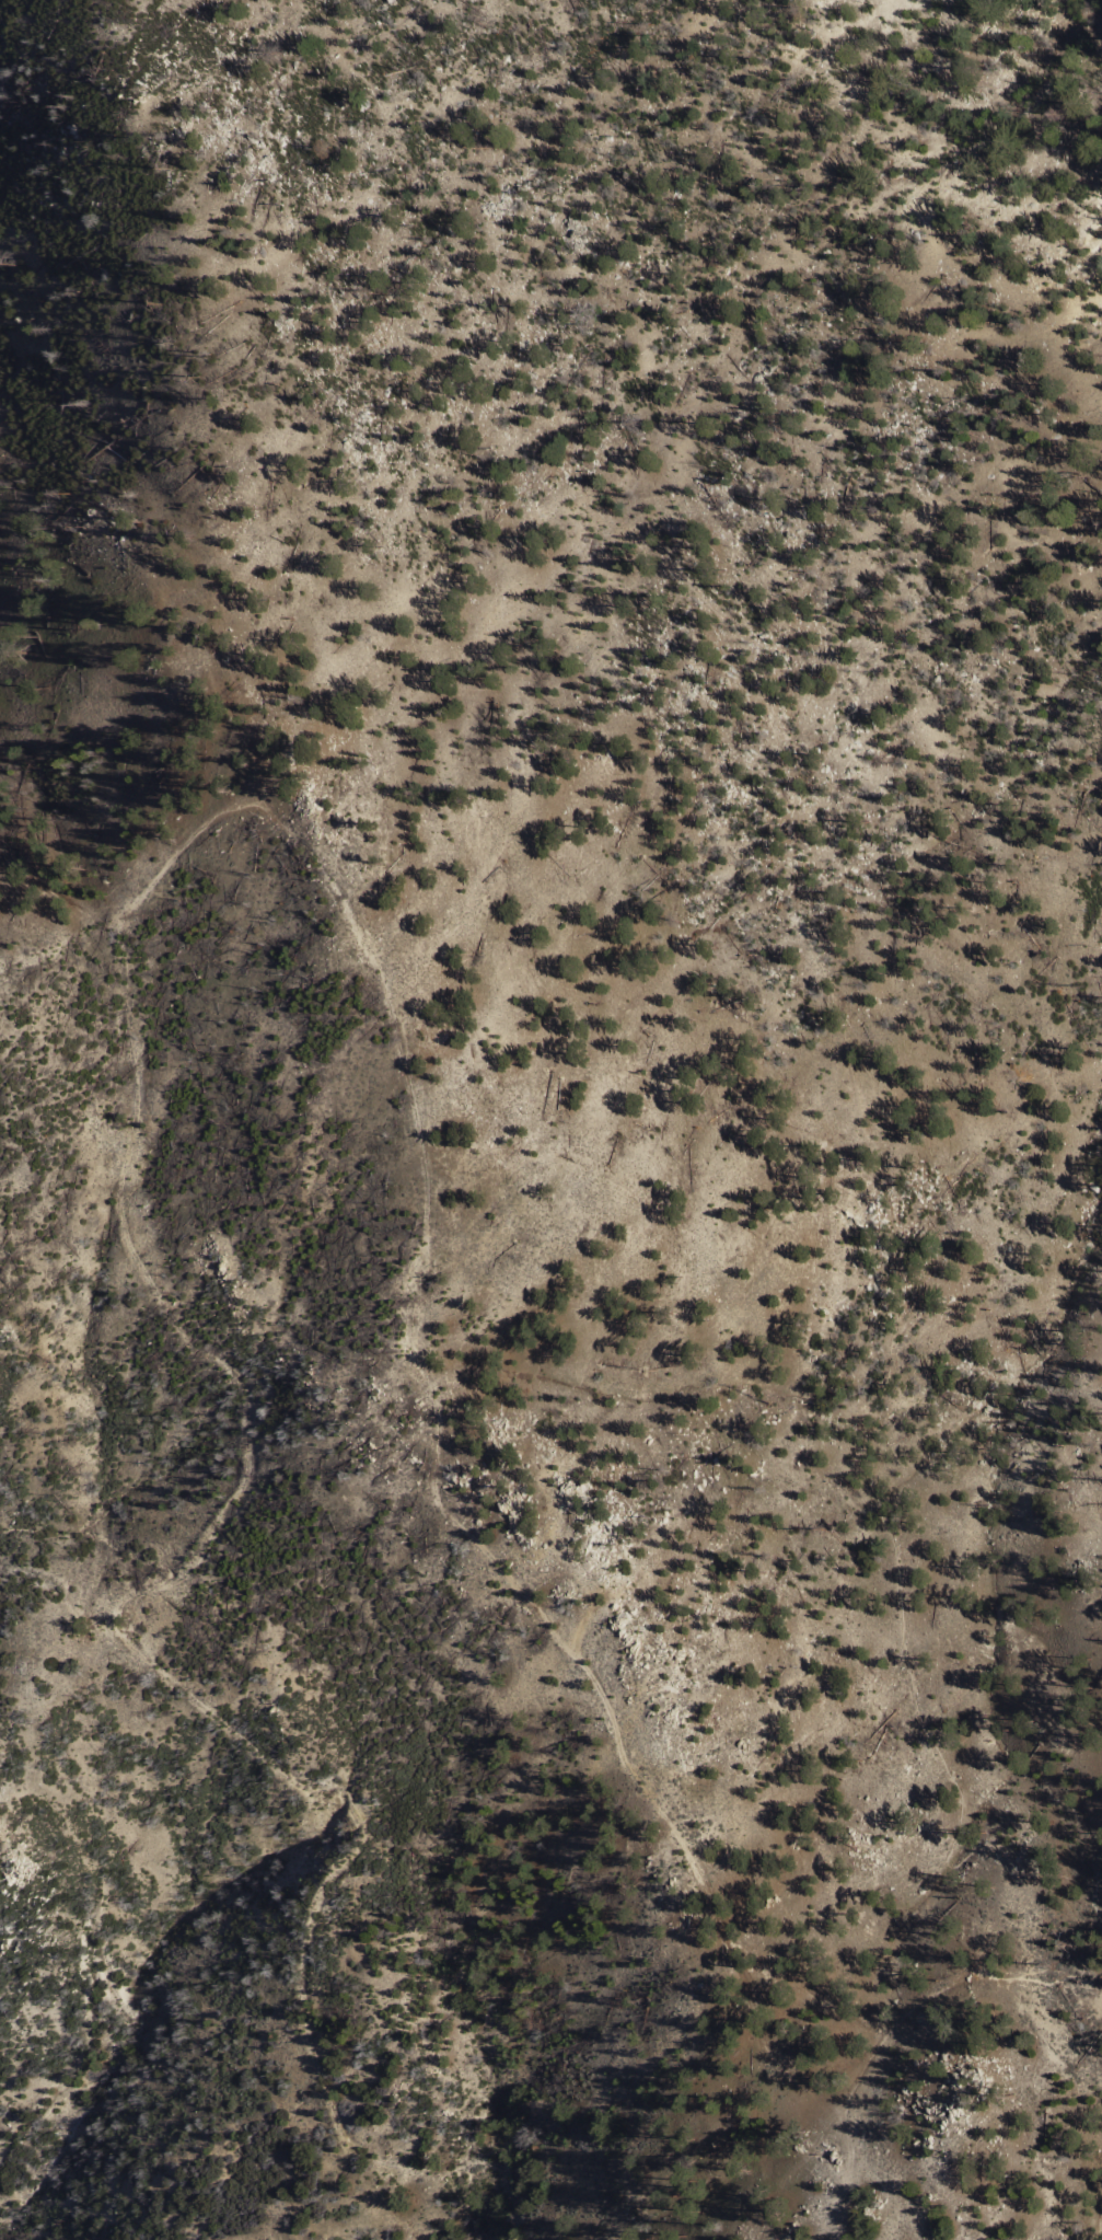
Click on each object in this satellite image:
road: (817, 967)
road: (440, 1477)
road: (138, 1659)
road: (1098, 2222)

